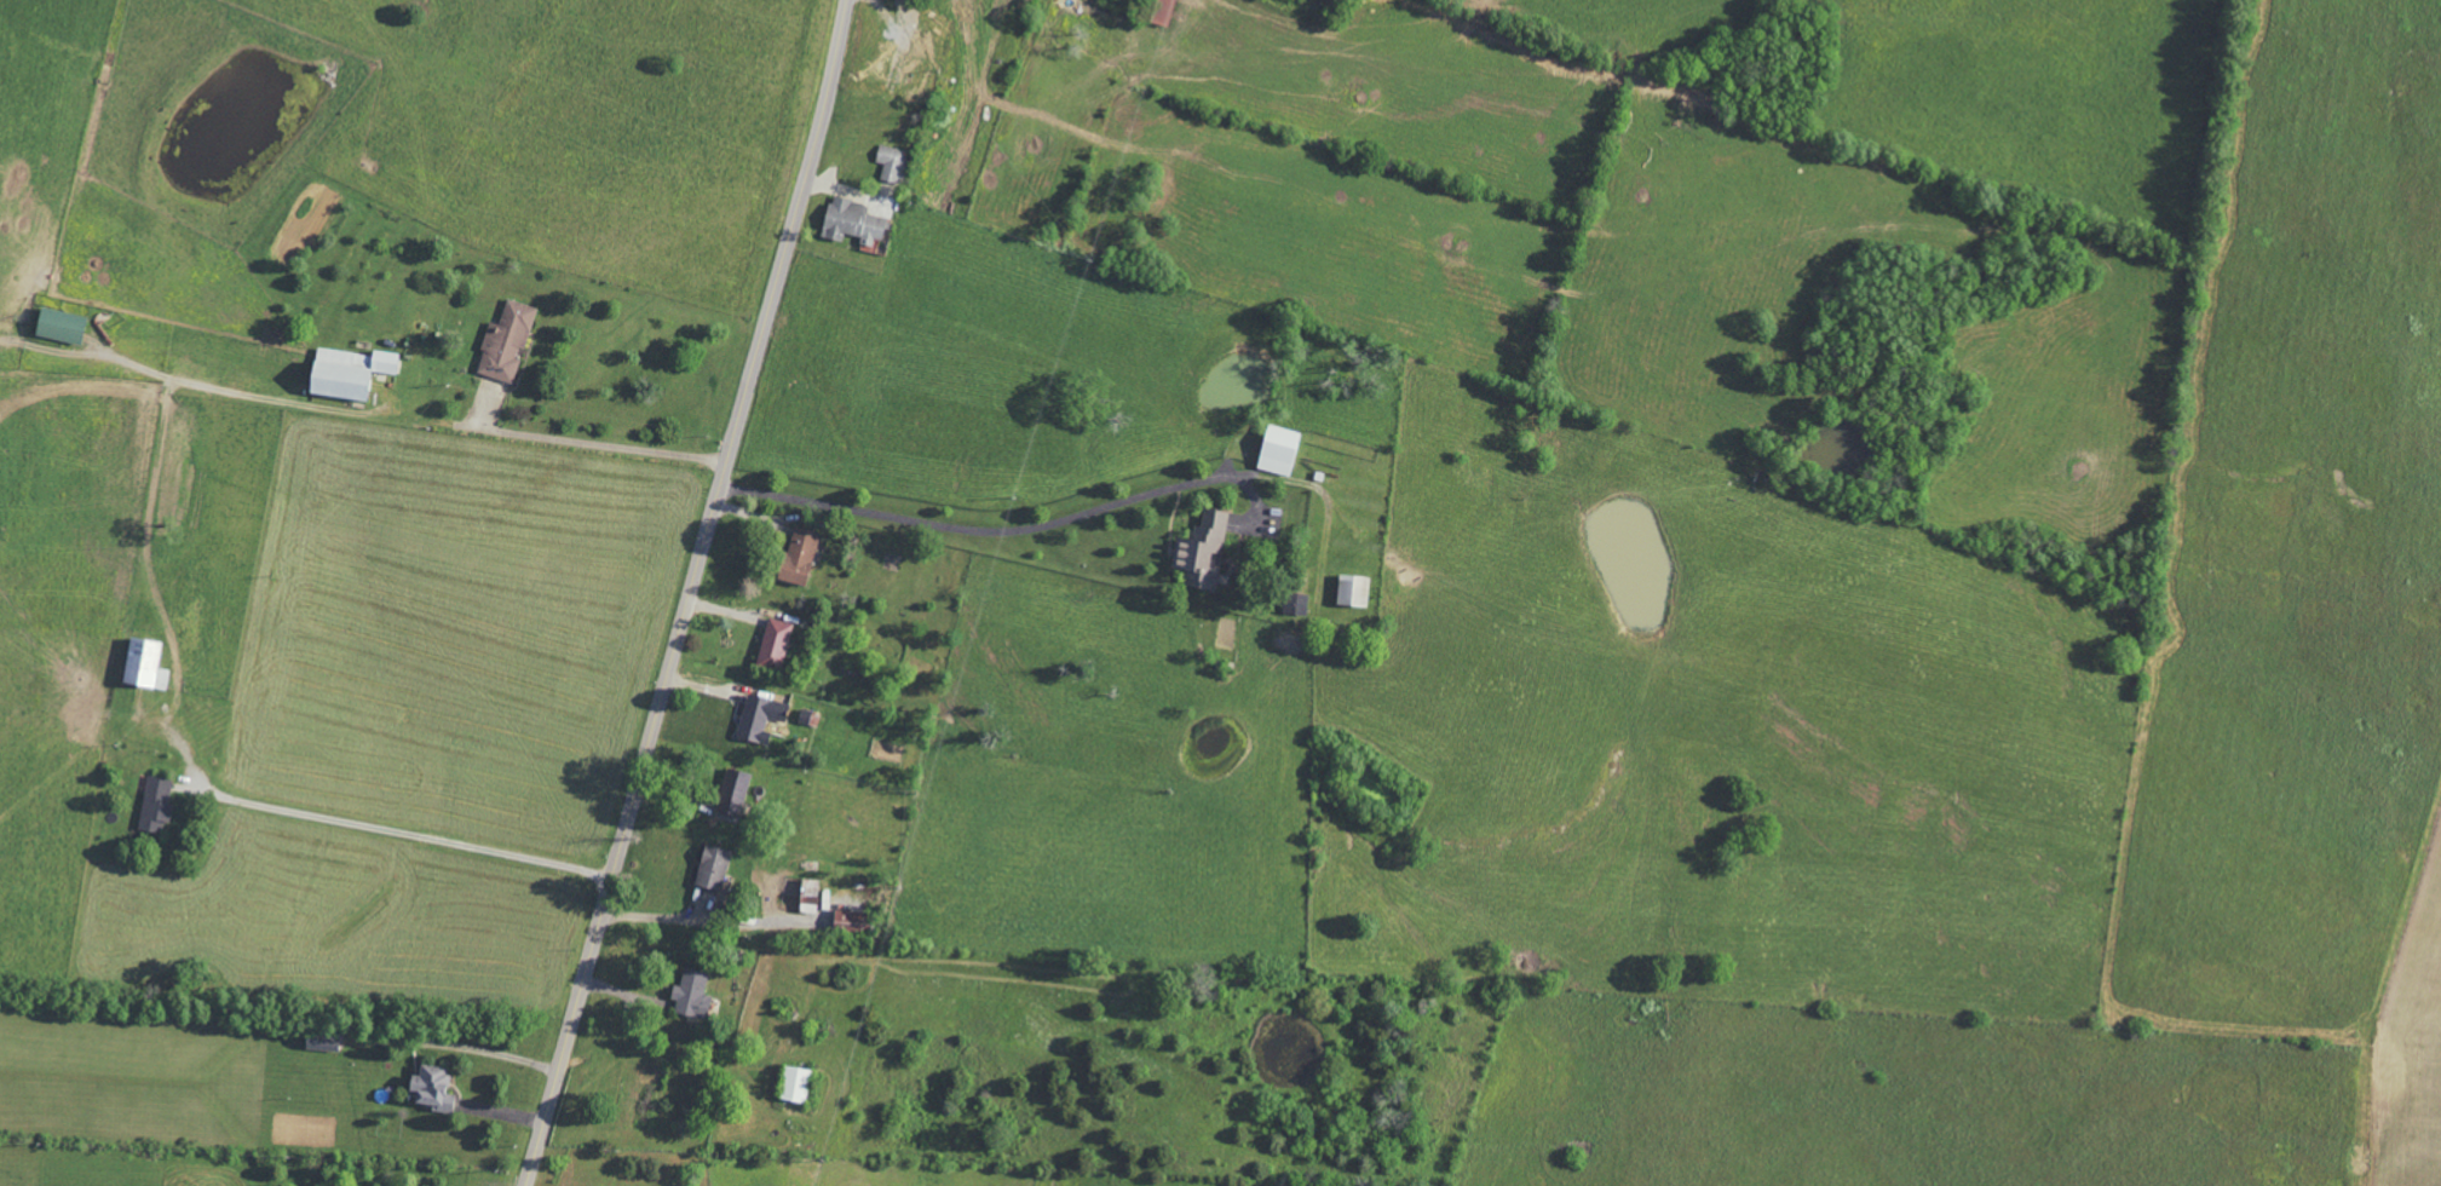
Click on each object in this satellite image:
building: (1161, 11)
building: (891, 162)
building: (851, 220)
building: (57, 324)
building: (505, 341)
building: (344, 373)
road: (419, 418)
building: (1277, 450)
building: (1201, 551)
building: (798, 557)
building: (1351, 591)
road: (690, 593)
building: (1299, 603)
building: (772, 643)
building: (142, 666)
building: (758, 719)
building: (737, 794)
building: (154, 805)
road: (409, 834)
building: (710, 867)
building: (847, 919)
building: (690, 994)
building: (319, 1040)
building: (793, 1083)
building: (430, 1087)

